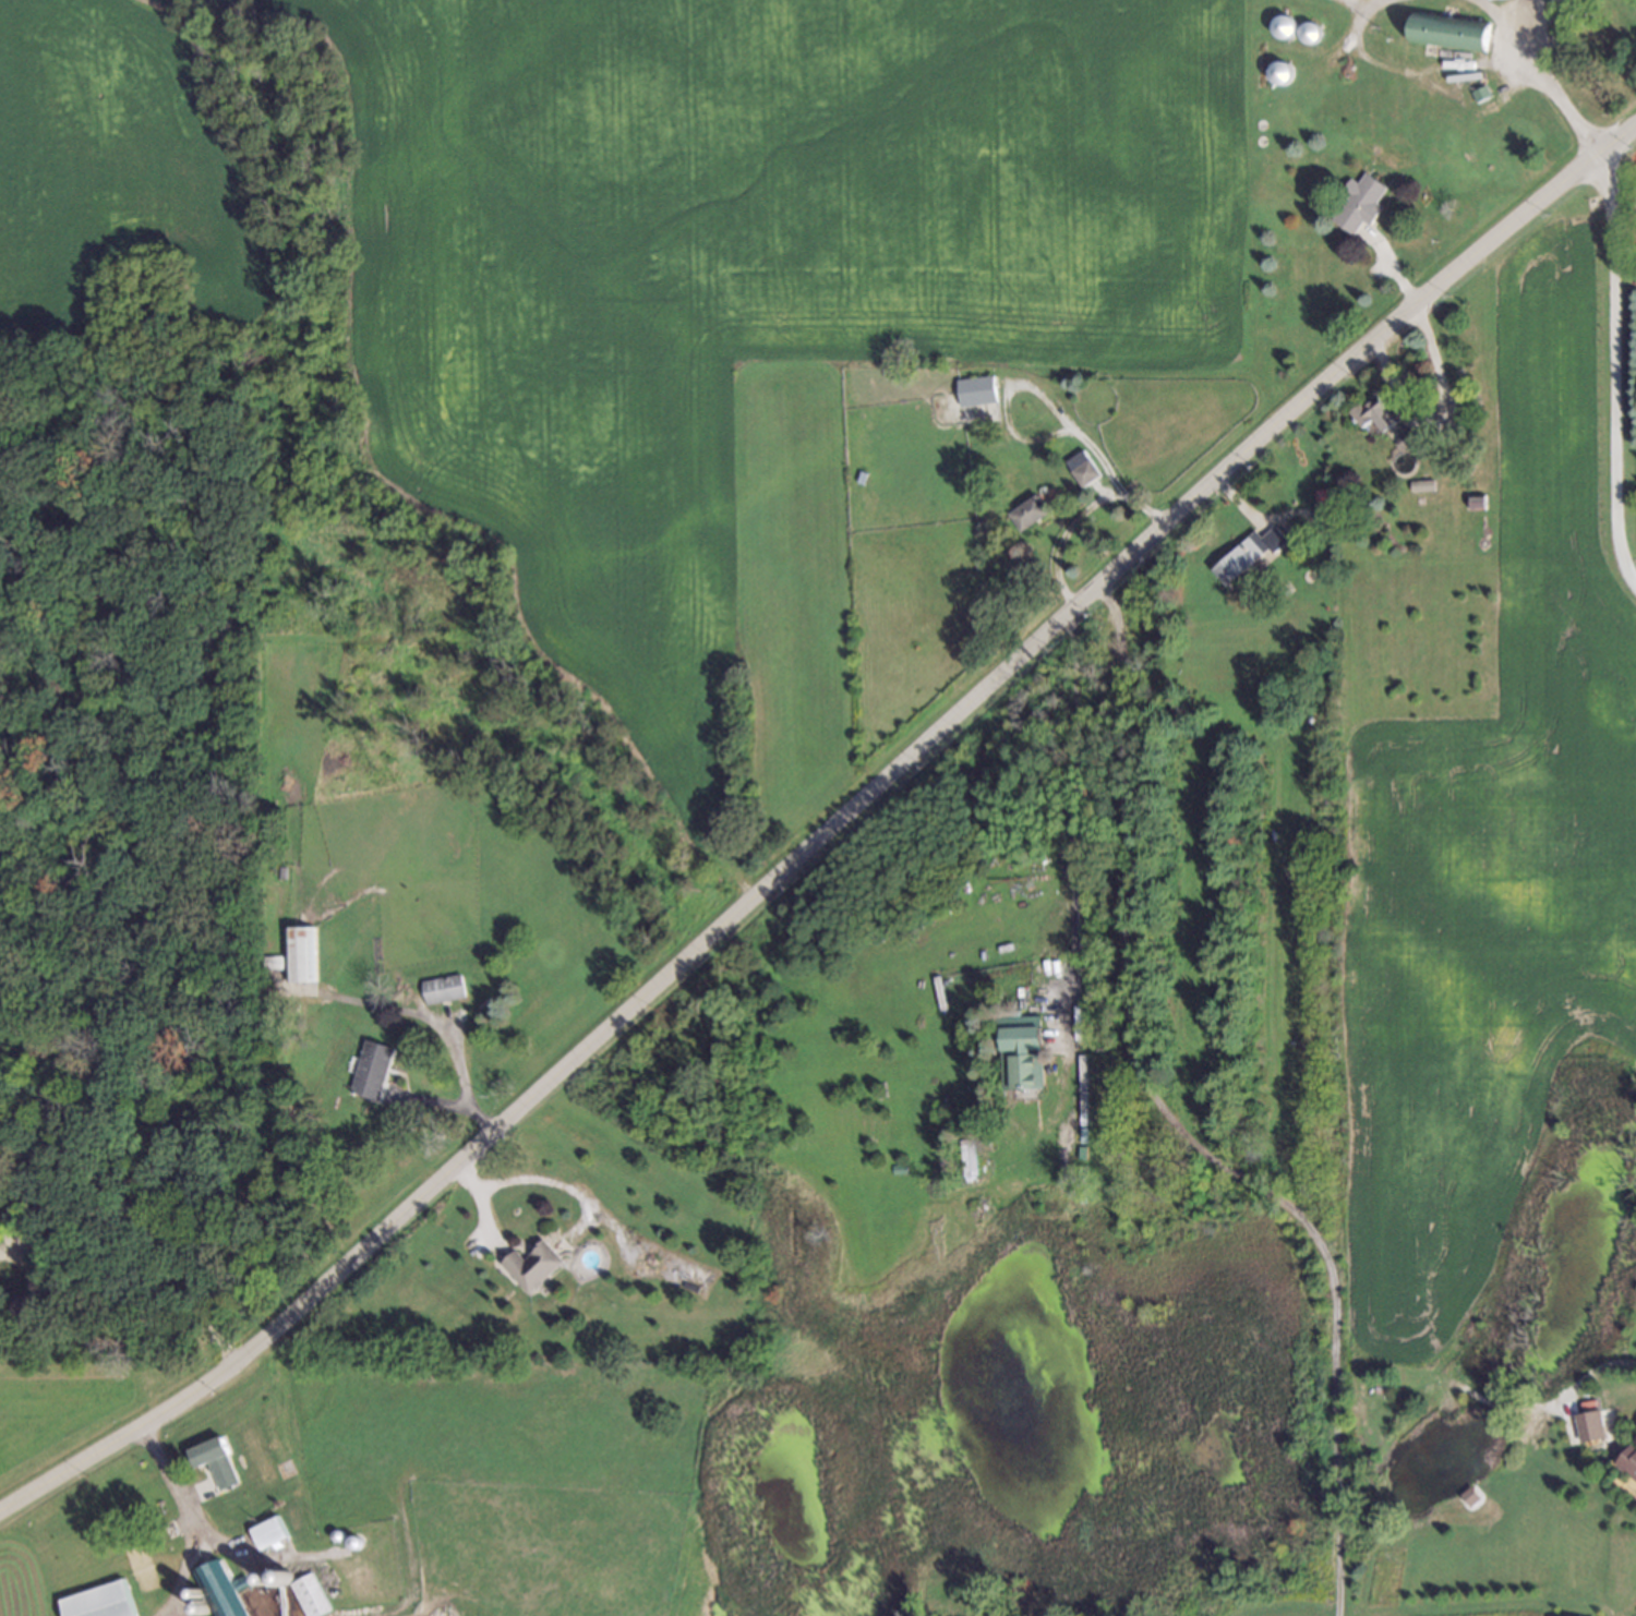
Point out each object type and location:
building: (1561, 7)
building: (1280, 24)
building: (1307, 29)
building: (1451, 29)
building: (1601, 48)
building: (1278, 70)
road: (1551, 87)
building: (1479, 91)
building: (1361, 201)
building: (1633, 272)
road: (1612, 371)
building: (974, 390)
building: (1375, 412)
building: (1404, 435)
building: (1080, 467)
building: (862, 479)
building: (1421, 481)
building: (1127, 483)
building: (1472, 497)
building: (1324, 507)
building: (1025, 508)
road: (1076, 517)
building: (1247, 552)
road: (1072, 803)
road: (826, 829)
building: (278, 869)
building: (300, 956)
building: (446, 989)
road: (445, 1032)
building: (1022, 1053)
building: (374, 1070)
road: (1175, 1124)
building: (1080, 1155)
road: (543, 1178)
building: (50, 1201)
road: (480, 1217)
building: (63, 1249)
building: (530, 1267)
building: (1588, 1424)
building: (213, 1456)
building: (1627, 1460)
road: (169, 1469)
building: (1467, 1493)
building: (167, 1524)
building: (270, 1531)
building: (335, 1533)
building: (320, 1565)
building: (296, 1569)
building: (282, 1573)
building: (265, 1576)
building: (323, 1577)
building: (222, 1588)
building: (330, 1588)
building: (312, 1595)
building: (99, 1601)

